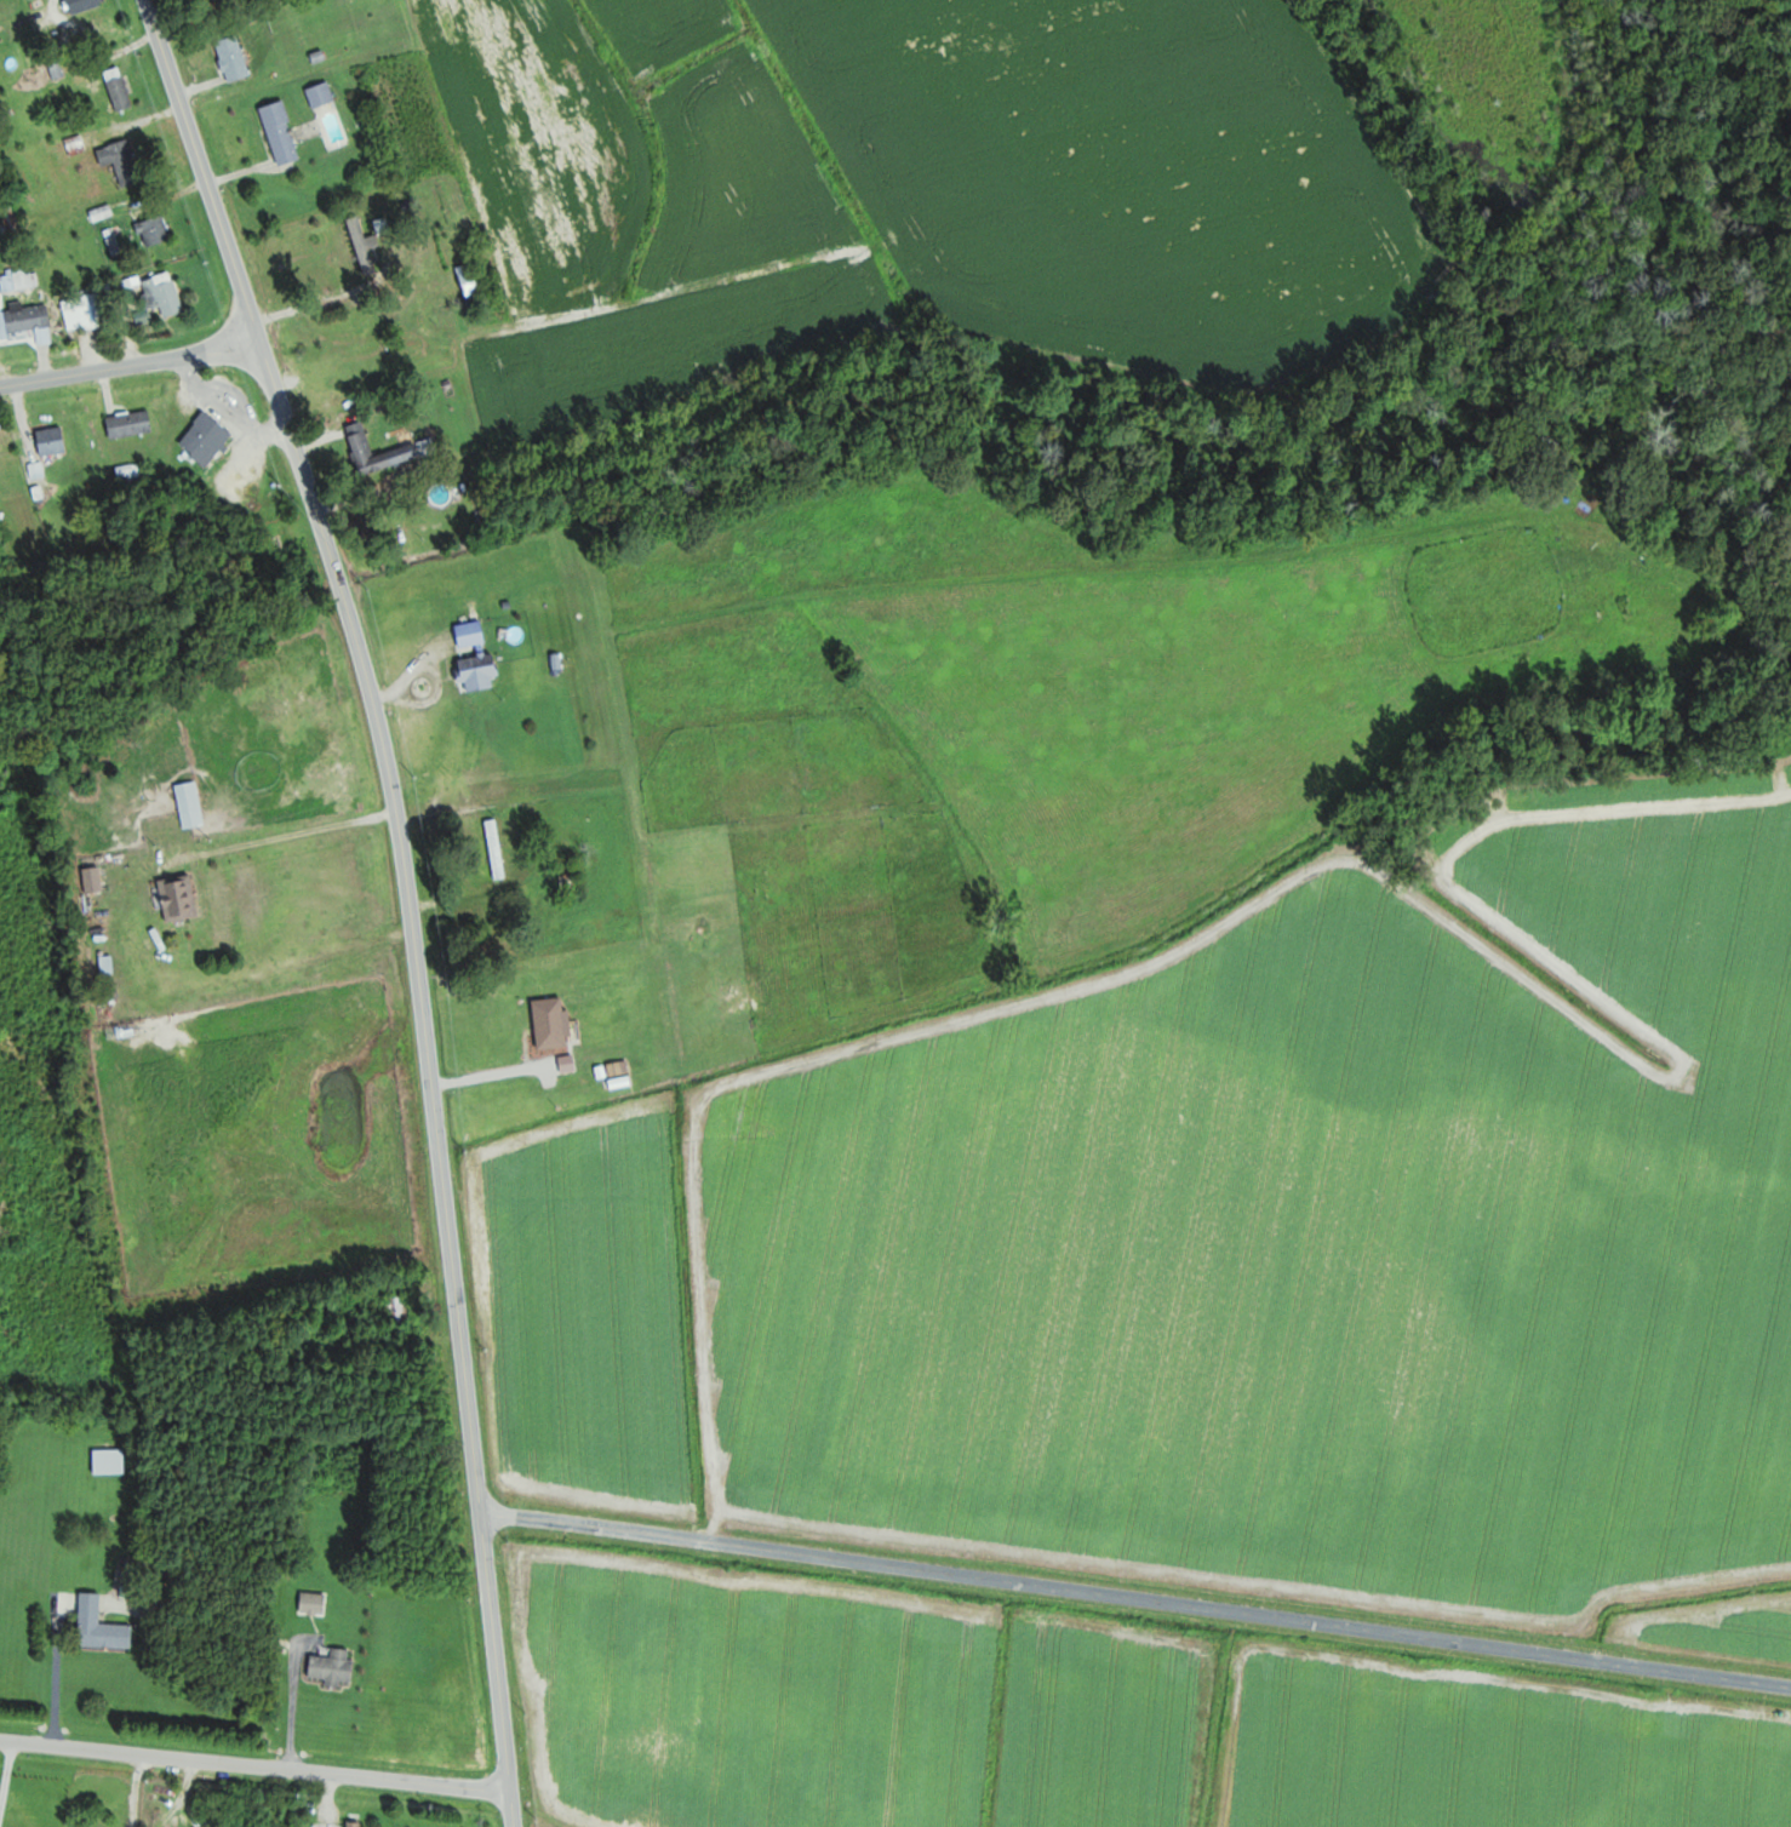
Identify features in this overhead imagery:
building: (85, 5)
building: (234, 58)
building: (53, 70)
building: (120, 88)
building: (322, 94)
building: (282, 133)
building: (122, 161)
building: (453, 212)
building: (155, 231)
building: (367, 239)
building: (471, 279)
building: (19, 281)
building: (167, 296)
building: (85, 310)
building: (25, 320)
road: (131, 367)
building: (136, 422)
building: (208, 437)
building: (55, 439)
building: (417, 447)
building: (471, 632)
building: (481, 669)
building: (190, 804)
road: (309, 834)
building: (497, 848)
road: (411, 895)
building: (181, 898)
building: (679, 930)
building: (591, 934)
building: (553, 1023)
building: (128, 1029)
building: (395, 1310)
building: (110, 1461)
road: (1135, 1597)
building: (314, 1603)
building: (103, 1626)
building: (331, 1667)
road: (256, 1764)
building: (356, 1823)

